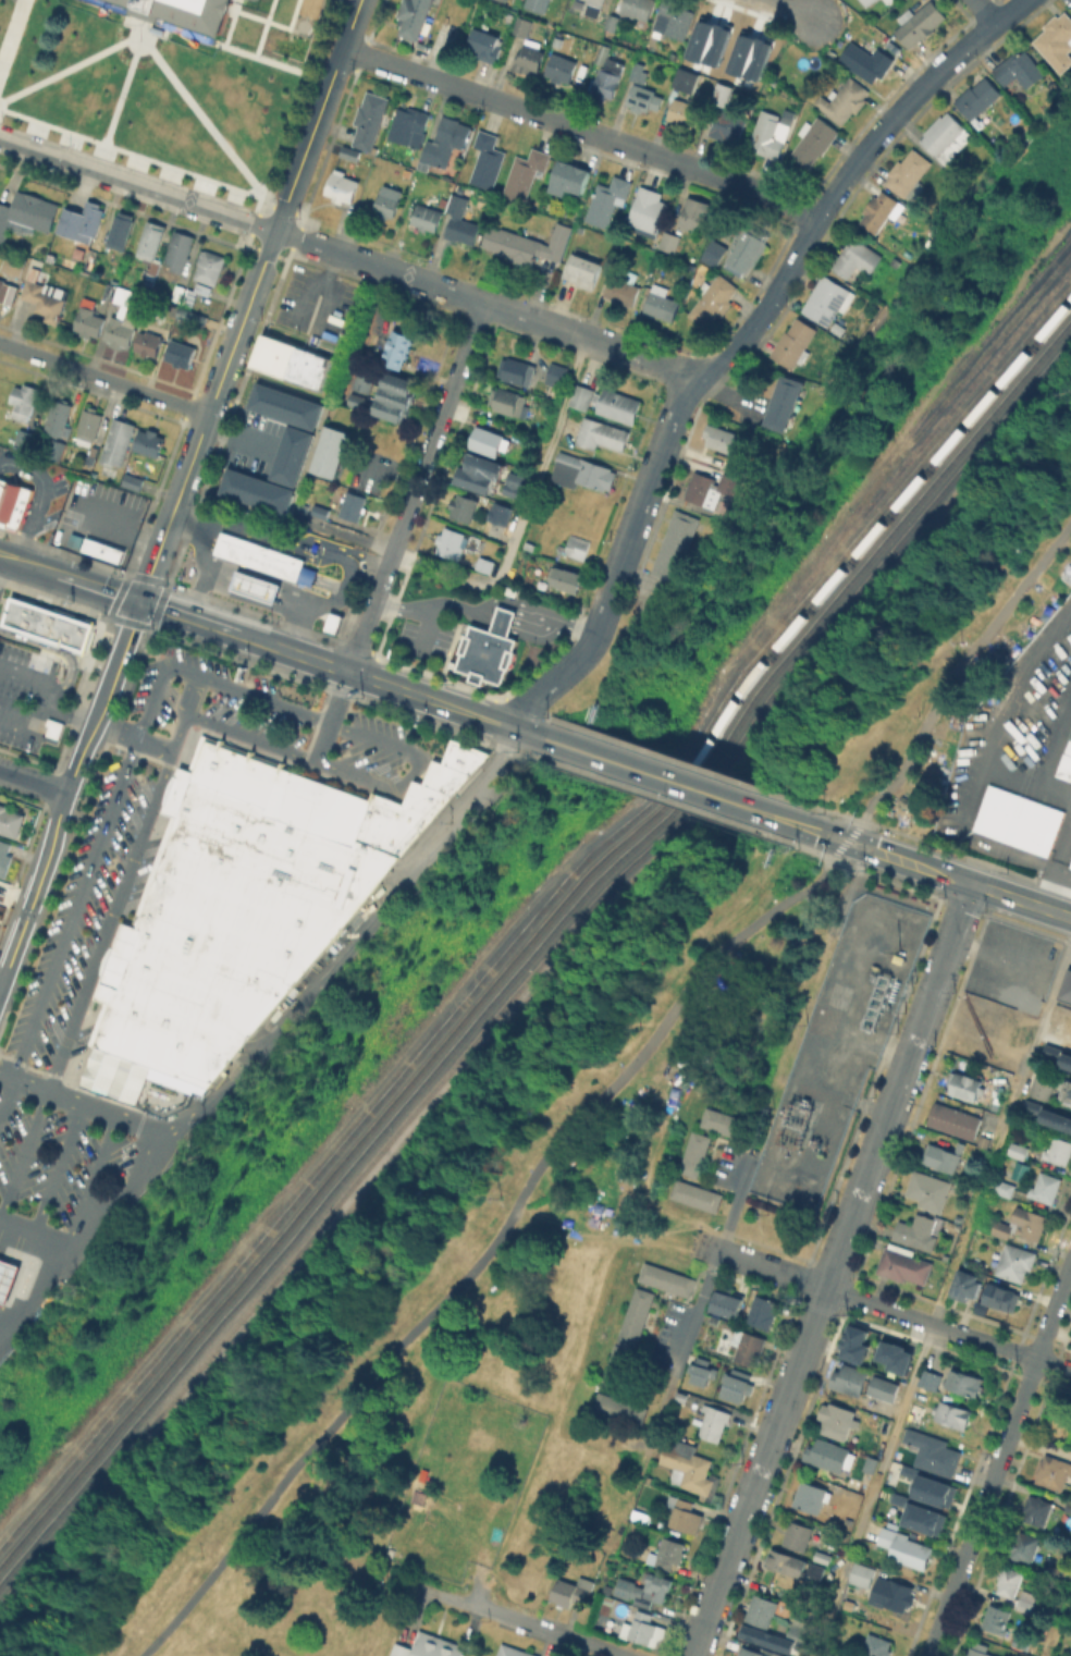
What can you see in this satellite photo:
building: (504, 0)
building: (885, 0)
building: (888, 1)
building: (596, 2)
building: (869, 2)
building: (538, 4)
building: (1069, 5)
building: (637, 8)
road: (797, 8)
building: (185, 11)
road: (983, 13)
building: (415, 17)
building: (676, 17)
building: (612, 22)
building: (919, 23)
building: (699, 38)
building: (755, 38)
building: (1056, 40)
building: (716, 42)
building: (488, 46)
building: (527, 47)
building: (603, 53)
building: (740, 53)
building: (756, 58)
building: (866, 61)
road: (394, 66)
building: (561, 68)
building: (1019, 69)
building: (639, 72)
building: (608, 78)
building: (686, 79)
building: (725, 94)
building: (644, 98)
building: (978, 99)
building: (844, 100)
road: (514, 108)
building: (682, 112)
building: (370, 119)
building: (409, 124)
building: (727, 125)
building: (770, 135)
building: (946, 136)
building: (814, 139)
building: (444, 142)
road: (635, 149)
building: (350, 151)
building: (488, 161)
building: (908, 171)
building: (525, 173)
road: (845, 175)
building: (569, 177)
road: (137, 185)
building: (342, 185)
road: (752, 191)
building: (607, 200)
building: (387, 204)
building: (649, 210)
building: (881, 210)
building: (694, 212)
building: (27, 213)
building: (427, 216)
building: (83, 219)
building: (460, 220)
building: (121, 230)
building: (668, 241)
building: (531, 244)
building: (151, 247)
building: (180, 249)
building: (748, 249)
building: (714, 252)
building: (855, 259)
building: (14, 266)
building: (210, 266)
building: (582, 271)
road: (397, 272)
building: (2, 284)
building: (204, 287)
building: (624, 287)
building: (180, 292)
building: (45, 295)
building: (189, 296)
building: (828, 298)
road: (250, 299)
building: (713, 299)
building: (662, 305)
building: (193, 316)
building: (121, 317)
building: (89, 319)
road: (552, 326)
building: (149, 342)
building: (795, 342)
building: (397, 347)
building: (181, 352)
road: (640, 355)
railway: (957, 364)
building: (296, 366)
building: (517, 370)
building: (557, 373)
road: (104, 378)
building: (364, 381)
road: (721, 390)
building: (582, 395)
building: (395, 398)
building: (24, 400)
building: (510, 402)
building: (357, 403)
road: (676, 403)
building: (786, 403)
building: (617, 404)
building: (284, 405)
building: (59, 415)
railway: (932, 426)
building: (89, 428)
building: (602, 433)
building: (722, 437)
building: (24, 439)
building: (490, 440)
building: (149, 441)
road: (238, 441)
building: (527, 443)
building: (119, 444)
building: (56, 447)
building: (331, 451)
railway: (898, 452)
building: (291, 454)
building: (737, 465)
building: (480, 475)
building: (587, 476)
building: (130, 480)
road: (39, 482)
building: (515, 486)
road: (414, 487)
building: (715, 488)
building: (255, 490)
road: (47, 494)
road: (643, 499)
building: (15, 503)
building: (353, 504)
building: (464, 505)
road: (525, 513)
road: (208, 525)
building: (495, 530)
road: (303, 541)
building: (451, 541)
building: (98, 545)
building: (679, 545)
building: (574, 547)
building: (258, 554)
road: (200, 559)
building: (485, 563)
road: (3, 565)
building: (566, 577)
building: (254, 585)
road: (612, 586)
road: (336, 594)
road: (514, 600)
traffic signals: (141, 601)
road: (263, 603)
road: (403, 604)
road: (482, 612)
road: (502, 618)
building: (47, 623)
building: (337, 626)
road: (423, 627)
road: (552, 630)
road: (254, 640)
road: (53, 647)
building: (488, 647)
road: (958, 670)
road: (195, 672)
road: (562, 673)
road: (1014, 679)
park: (947, 688)
parking lot: (19, 690)
road: (45, 698)
road: (185, 709)
parking lot: (263, 710)
road: (331, 716)
road: (108, 723)
road: (526, 733)
building: (464, 756)
road: (605, 759)
building: (1066, 762)
road: (1052, 763)
building: (445, 776)
road: (33, 783)
road: (66, 793)
road: (734, 804)
building: (401, 817)
building: (1021, 817)
road: (961, 819)
building: (10, 820)
road: (824, 834)
road: (847, 839)
building: (4, 861)
road: (909, 862)
building: (1070, 871)
road: (1058, 872)
road: (854, 880)
road: (1021, 899)
building: (233, 909)
parking lot: (77, 910)
railway: (534, 911)
railway: (534, 928)
road: (350, 940)
railway: (535, 944)
railway: (535, 961)
road: (86, 981)
building: (1067, 991)
building: (1030, 1003)
building: (1070, 1045)
power substation: (836, 1047)
building: (1057, 1058)
building: (114, 1074)
building: (964, 1084)
building: (1044, 1088)
building: (1068, 1089)
road: (81, 1099)
building: (1046, 1117)
building: (955, 1119)
building: (724, 1121)
building: (1018, 1149)
building: (1059, 1150)
parking lot: (56, 1156)
building: (943, 1156)
building: (692, 1162)
road: (58, 1163)
building: (1018, 1170)
road: (93, 1175)
building: (1045, 1186)
road: (134, 1187)
building: (1005, 1187)
building: (931, 1189)
road: (738, 1191)
building: (1029, 1222)
road: (34, 1227)
road: (612, 1228)
building: (1001, 1228)
building: (920, 1230)
road: (485, 1253)
building: (1013, 1261)
building: (903, 1265)
road: (761, 1266)
road: (832, 1269)
building: (7, 1275)
gas station: (7, 1275)
building: (665, 1278)
building: (965, 1285)
building: (1001, 1296)
road: (941, 1298)
building: (728, 1305)
road: (878, 1305)
building: (764, 1312)
building: (714, 1323)
park: (490, 1335)
building: (625, 1337)
building: (853, 1342)
building: (749, 1347)
road: (1001, 1347)
road: (680, 1348)
building: (894, 1356)
building: (701, 1375)
building: (852, 1379)
building: (931, 1379)
building: (967, 1383)
building: (737, 1388)
building: (885, 1388)
building: (618, 1408)
building: (918, 1413)
building: (953, 1413)
building: (836, 1420)
building: (715, 1424)
building: (934, 1453)
building: (830, 1455)
road: (999, 1459)
building: (867, 1463)
building: (689, 1468)
building: (907, 1470)
building: (1052, 1472)
building: (932, 1489)
building: (812, 1497)
building: (897, 1498)
building: (1038, 1510)
building: (686, 1517)
building: (922, 1518)
building: (798, 1536)
building: (1024, 1547)
building: (906, 1548)
building: (668, 1555)
building: (823, 1557)
building: (787, 1563)
building: (815, 1571)
building: (863, 1574)
building: (1009, 1582)
building: (645, 1591)
building: (573, 1592)
building: (898, 1595)
building: (1025, 1605)
building: (763, 1610)
road: (1056, 1616)
building: (998, 1619)
road: (517, 1621)
building: (643, 1632)
building: (795, 1632)
building: (763, 1637)
building: (1023, 1641)
building: (433, 1645)
building: (800, 1645)
building: (877, 1646)
building: (397, 1649)
building: (513, 1652)
building: (475, 1653)
building: (750, 1653)
building: (980, 1653)
building: (1019, 1655)

